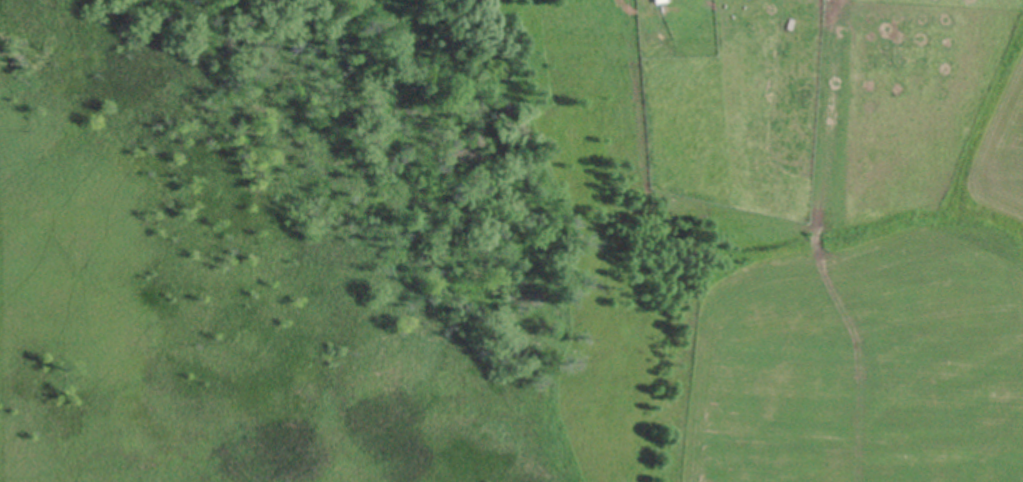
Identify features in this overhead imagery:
building: (659, 1)

